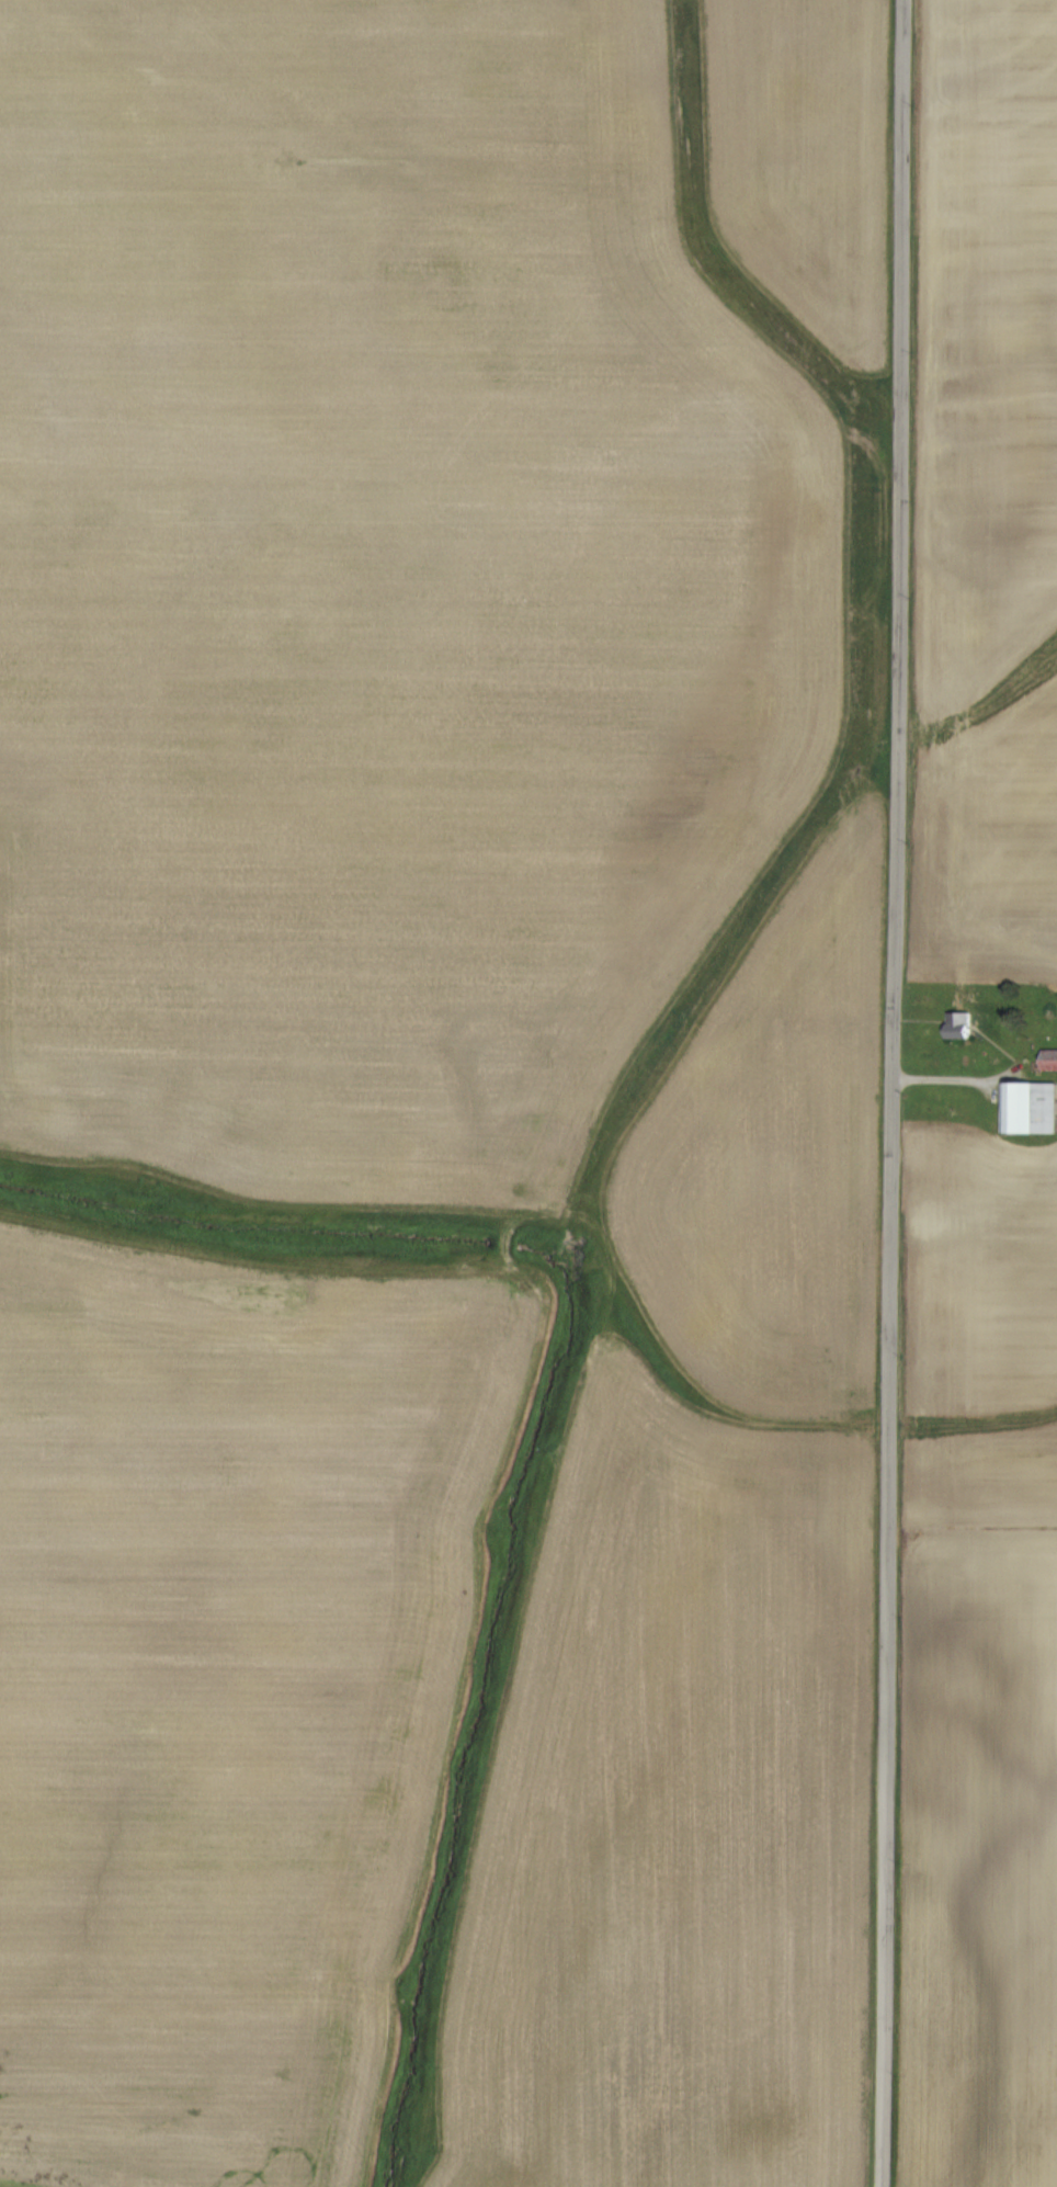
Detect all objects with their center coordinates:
crop: (986, 491)
building: (962, 1024)
building: (1050, 1059)
crop: (455, 1090)
road: (895, 1093)
building: (1032, 1107)
crop: (981, 1668)

